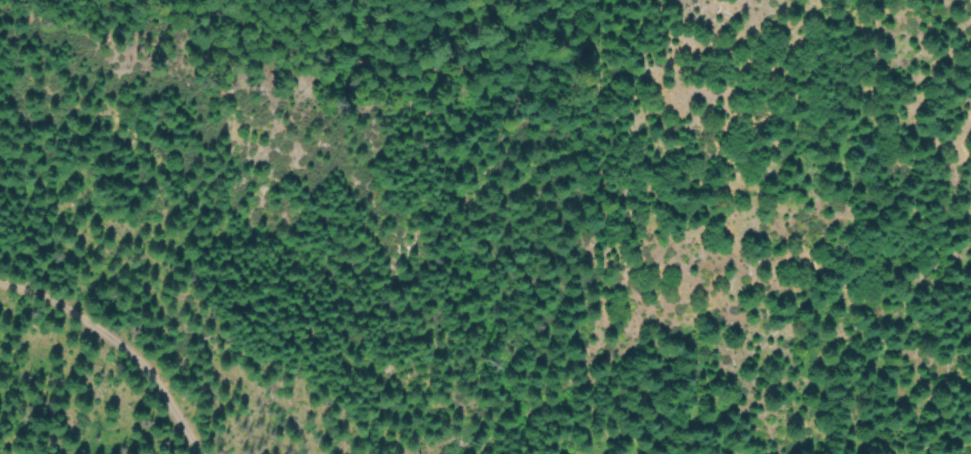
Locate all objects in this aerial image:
road: (121, 348)

